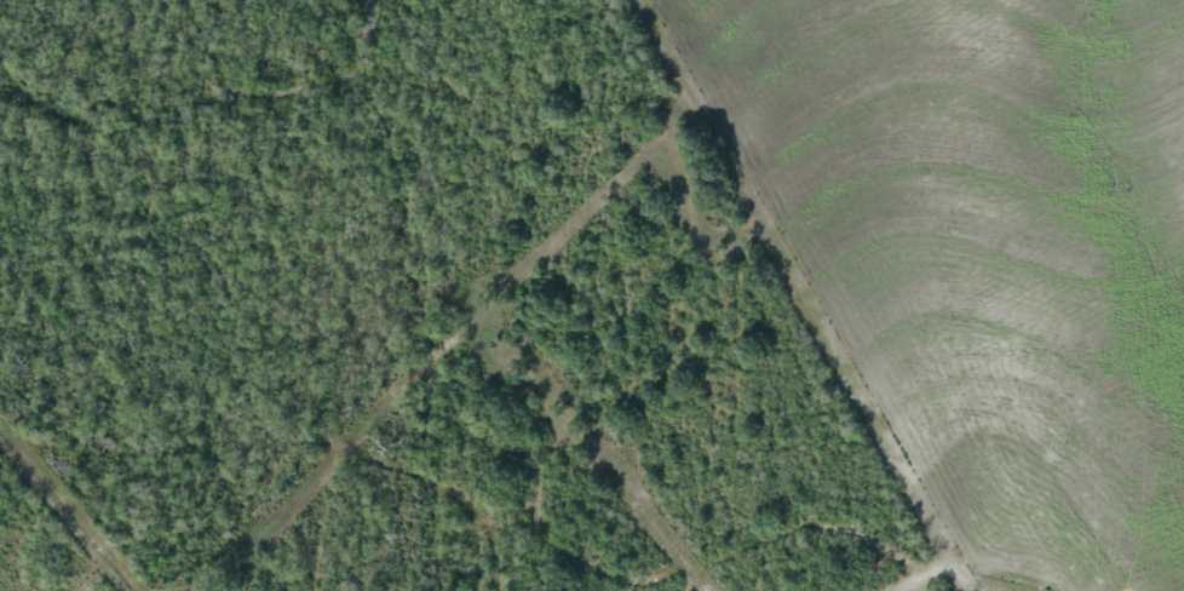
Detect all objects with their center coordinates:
river: (209, 102)

